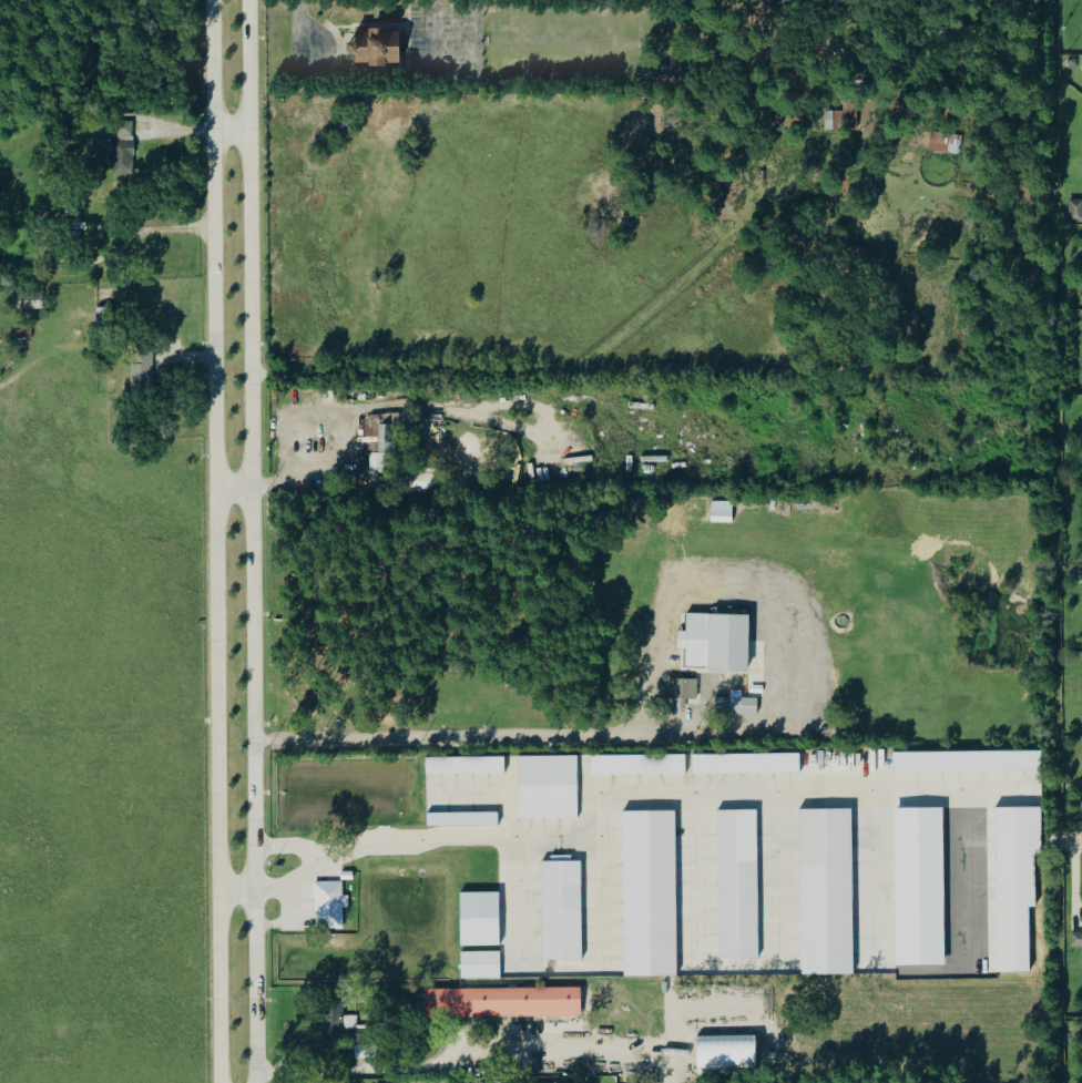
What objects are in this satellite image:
building: (769, 2)
building: (788, 2)
road: (302, 23)
building: (376, 45)
road: (452, 79)
building: (845, 118)
road: (232, 123)
building: (946, 142)
building: (123, 149)
building: (1075, 210)
building: (78, 219)
road: (152, 229)
building: (142, 368)
building: (380, 430)
road: (297, 474)
road: (234, 486)
building: (723, 511)
road: (216, 541)
road: (253, 541)
road: (761, 582)
building: (716, 641)
building: (684, 688)
building: (744, 704)
road: (470, 739)
building: (967, 762)
building: (747, 763)
building: (639, 764)
building: (465, 765)
building: (549, 787)
building: (463, 819)
road: (1073, 839)
road: (411, 841)
road: (312, 862)
road: (237, 881)
building: (1013, 887)
building: (868, 892)
building: (330, 905)
building: (562, 910)
road: (286, 916)
building: (480, 919)
building: (1076, 939)
building: (481, 964)
building: (503, 1002)
building: (727, 1052)
road: (411, 1069)

